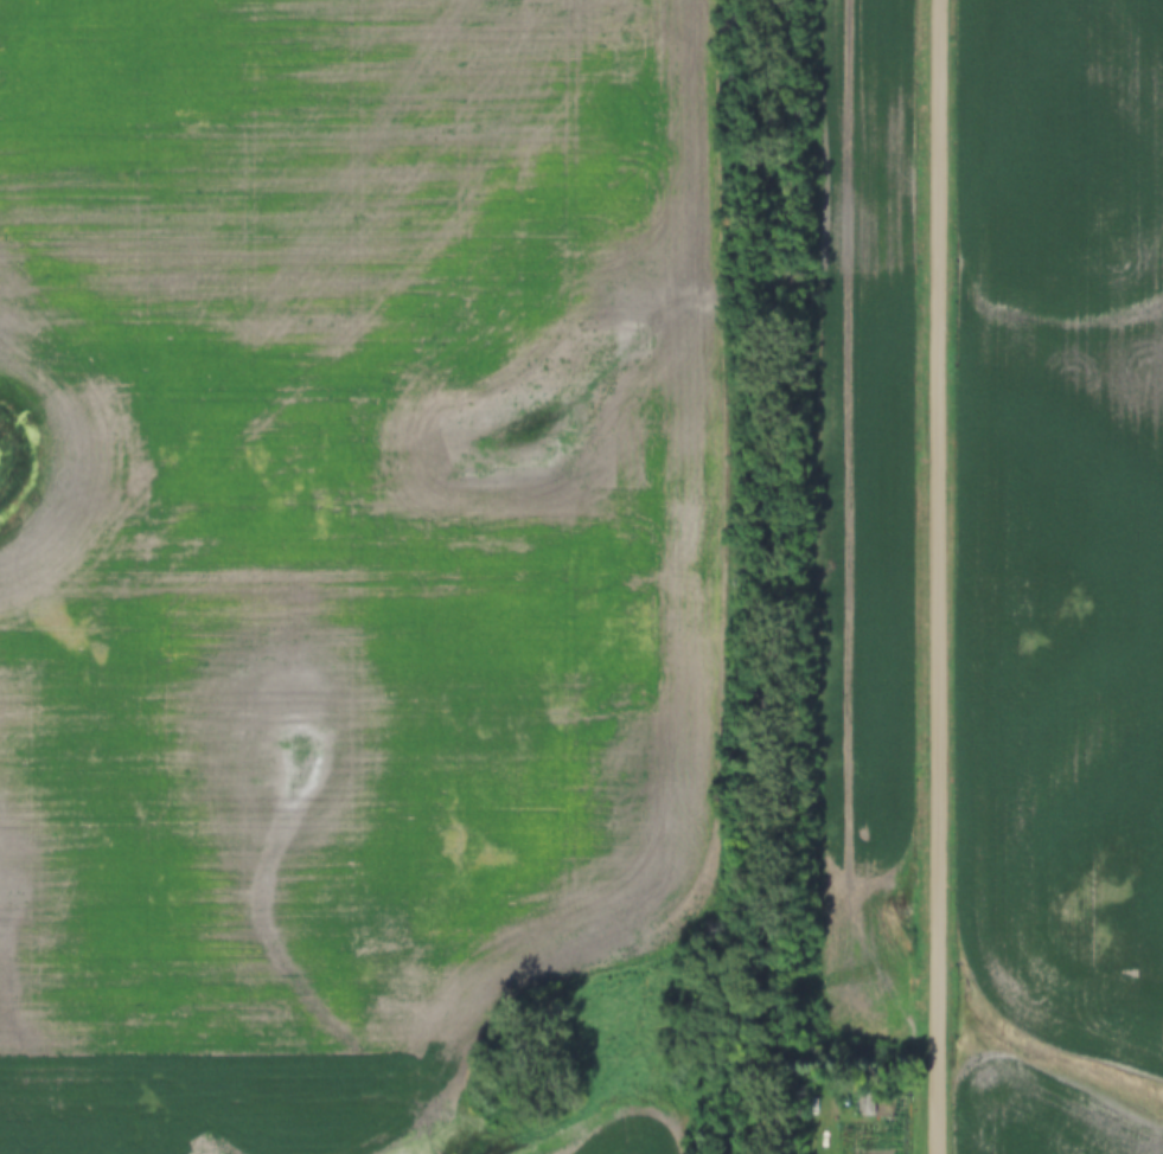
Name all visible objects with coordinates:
road: (939, 577)
building: (865, 1104)

